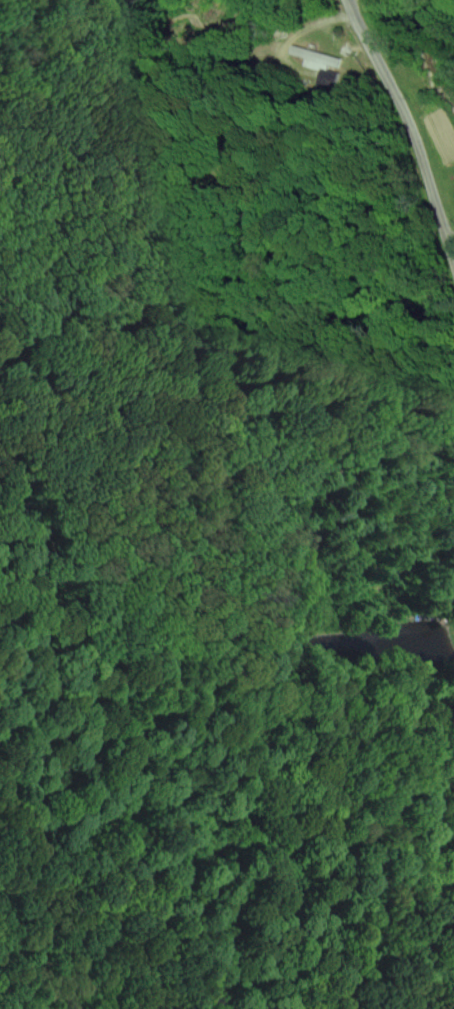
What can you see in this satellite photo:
building: (319, 61)
road: (408, 123)
road: (450, 231)

